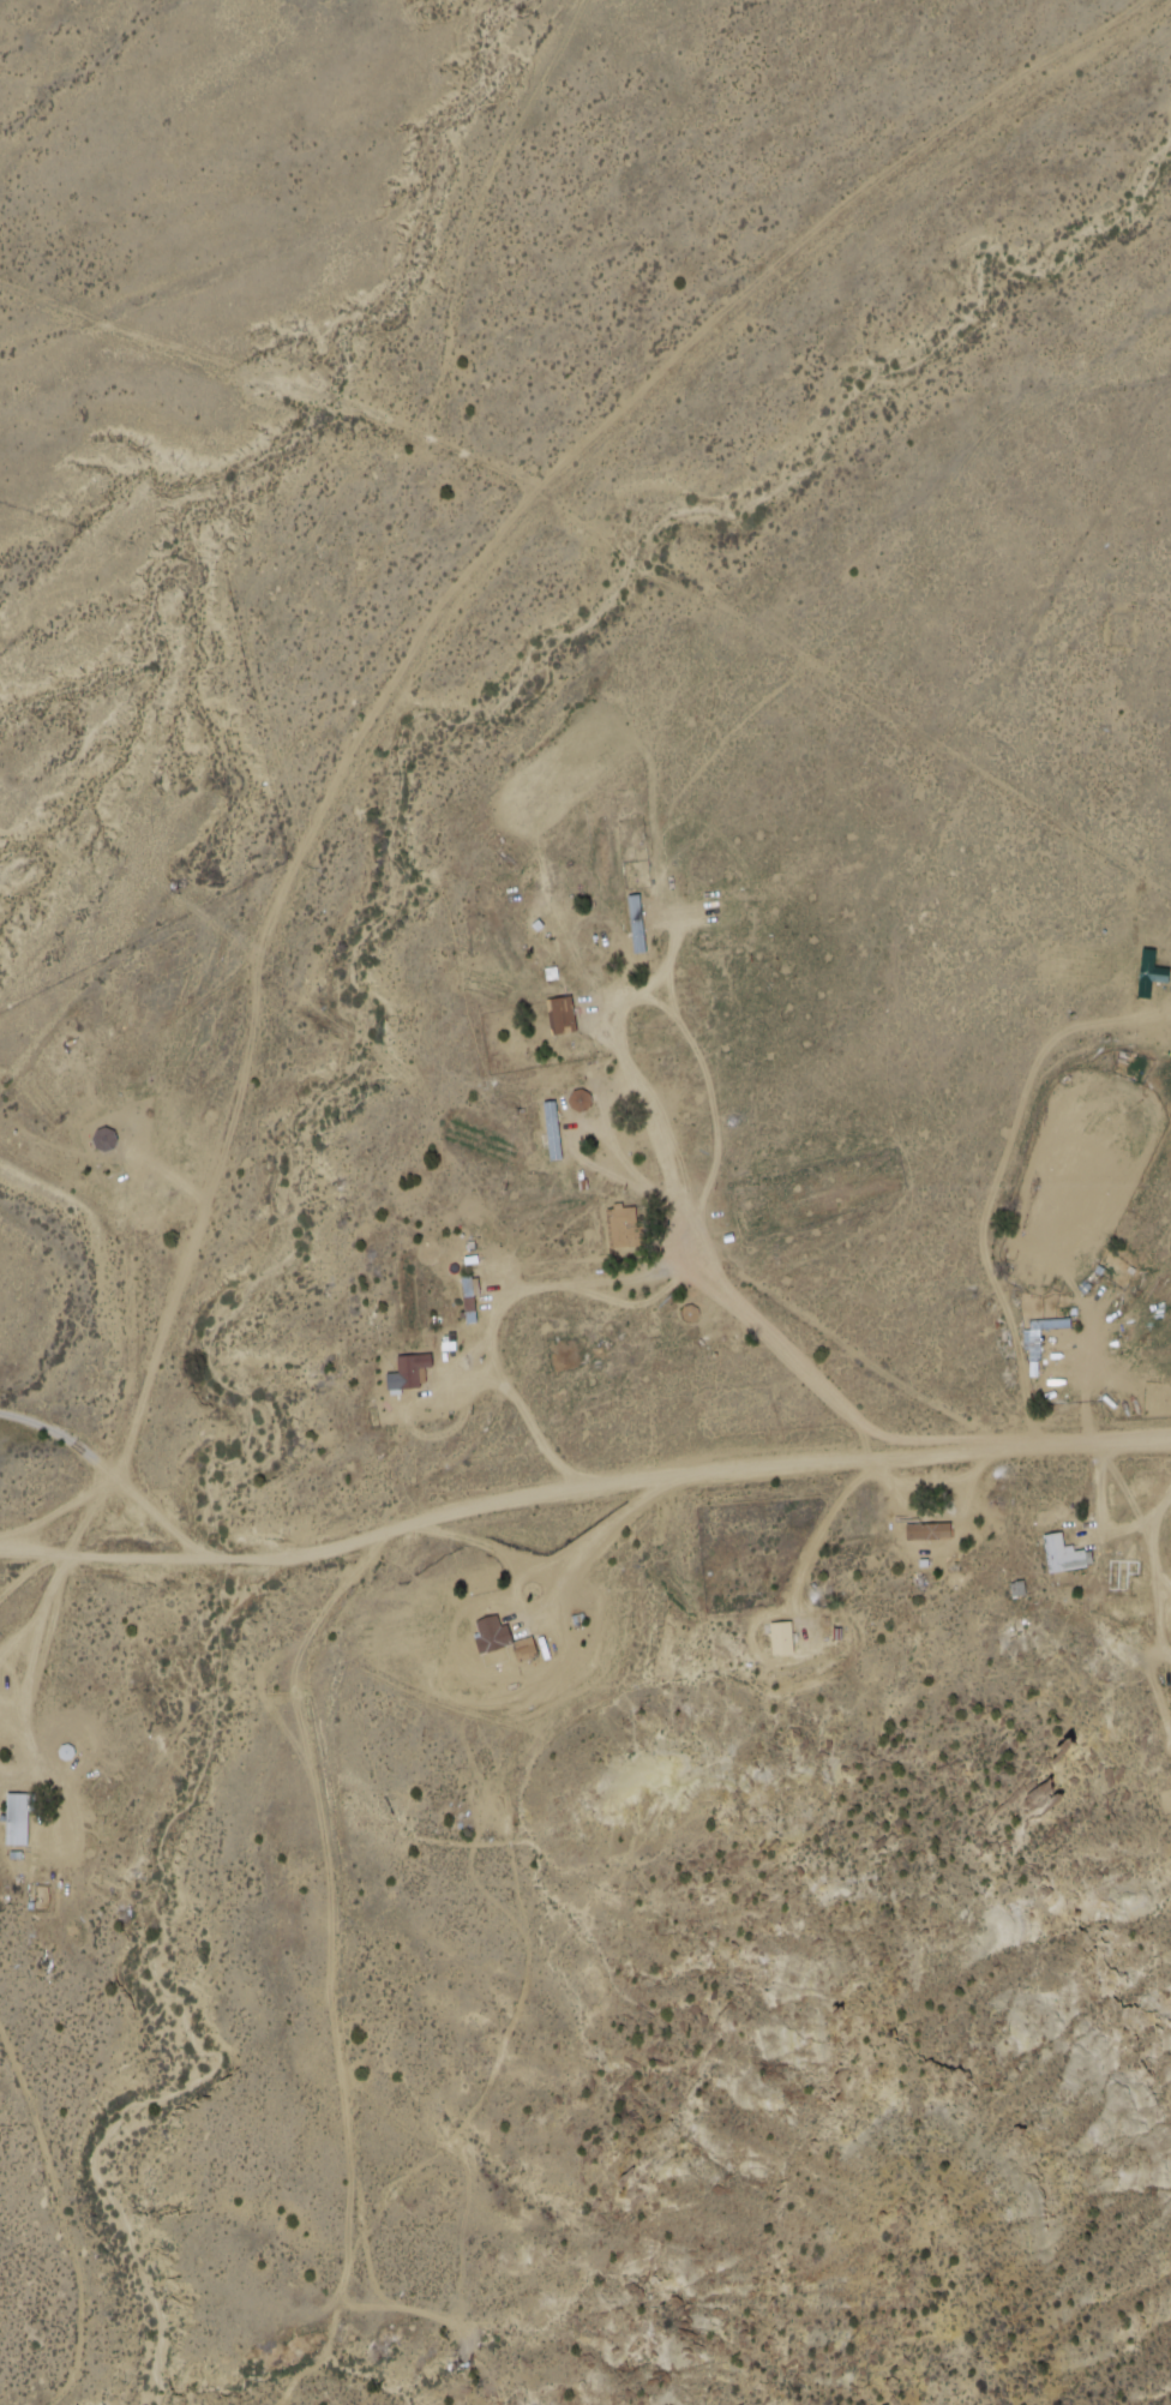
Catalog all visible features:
road: (338, 770)
building: (582, 1102)
building: (458, 1301)
building: (564, 1355)
building: (413, 1371)
road: (584, 1479)
building: (920, 1531)
building: (1057, 1553)
building: (492, 1633)
building: (782, 1637)
building: (526, 1649)
building: (18, 1818)

